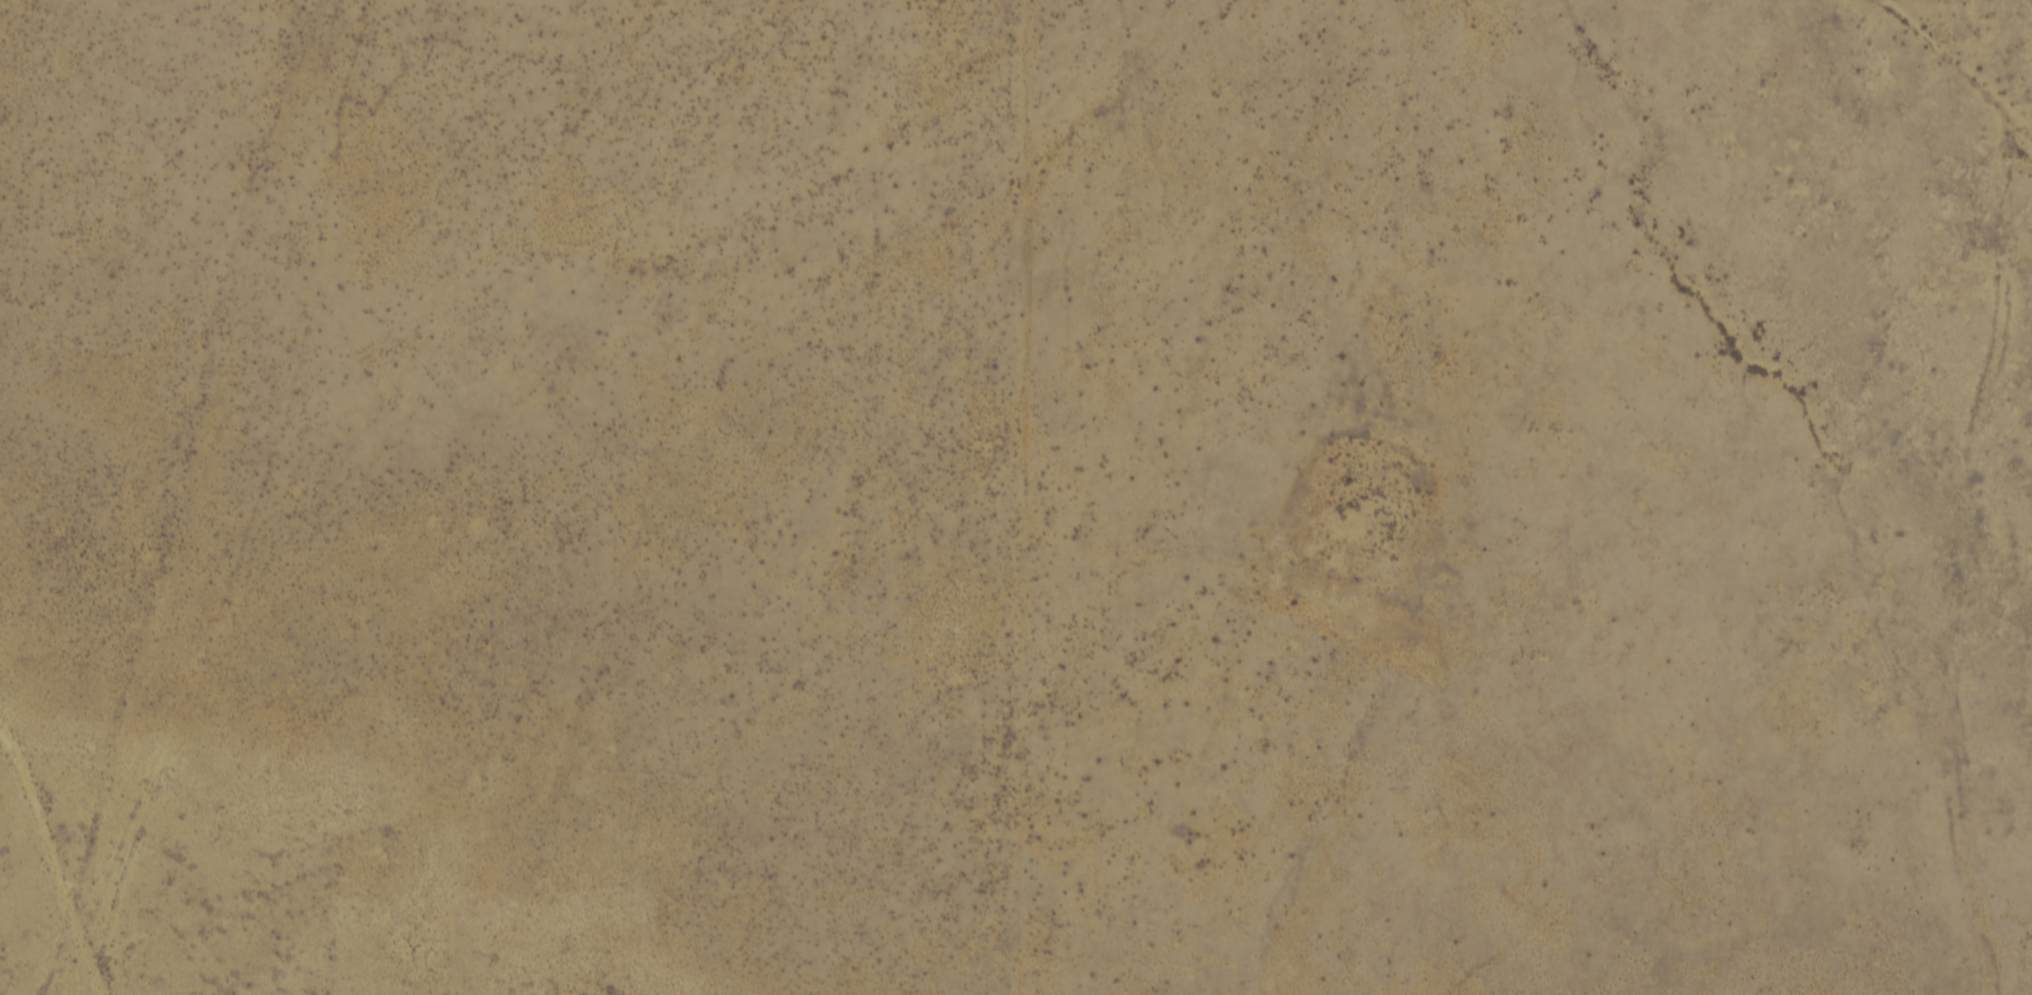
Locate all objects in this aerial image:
road: (54, 862)

